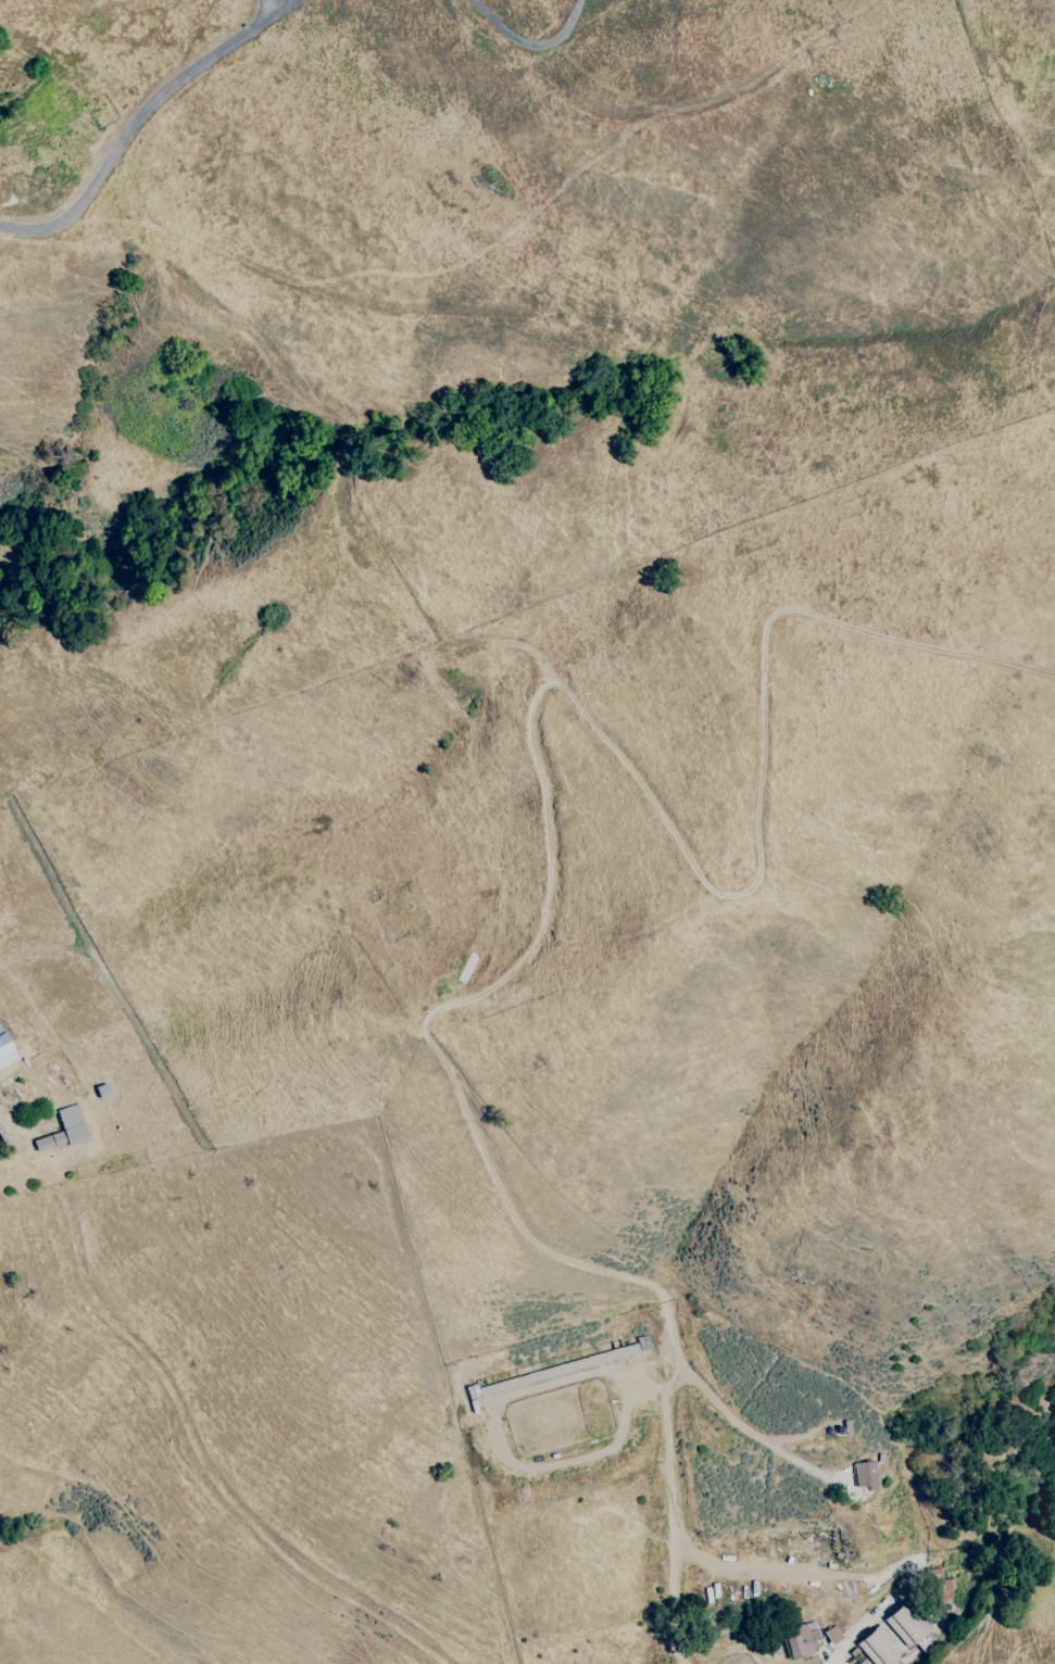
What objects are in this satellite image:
road: (269, 10)
road: (529, 48)
road: (141, 114)
building: (5, 1049)
road: (10, 1115)
building: (65, 1131)
building: (864, 1475)
building: (832, 1635)
building: (895, 1637)
building: (802, 1641)
building: (859, 1663)

